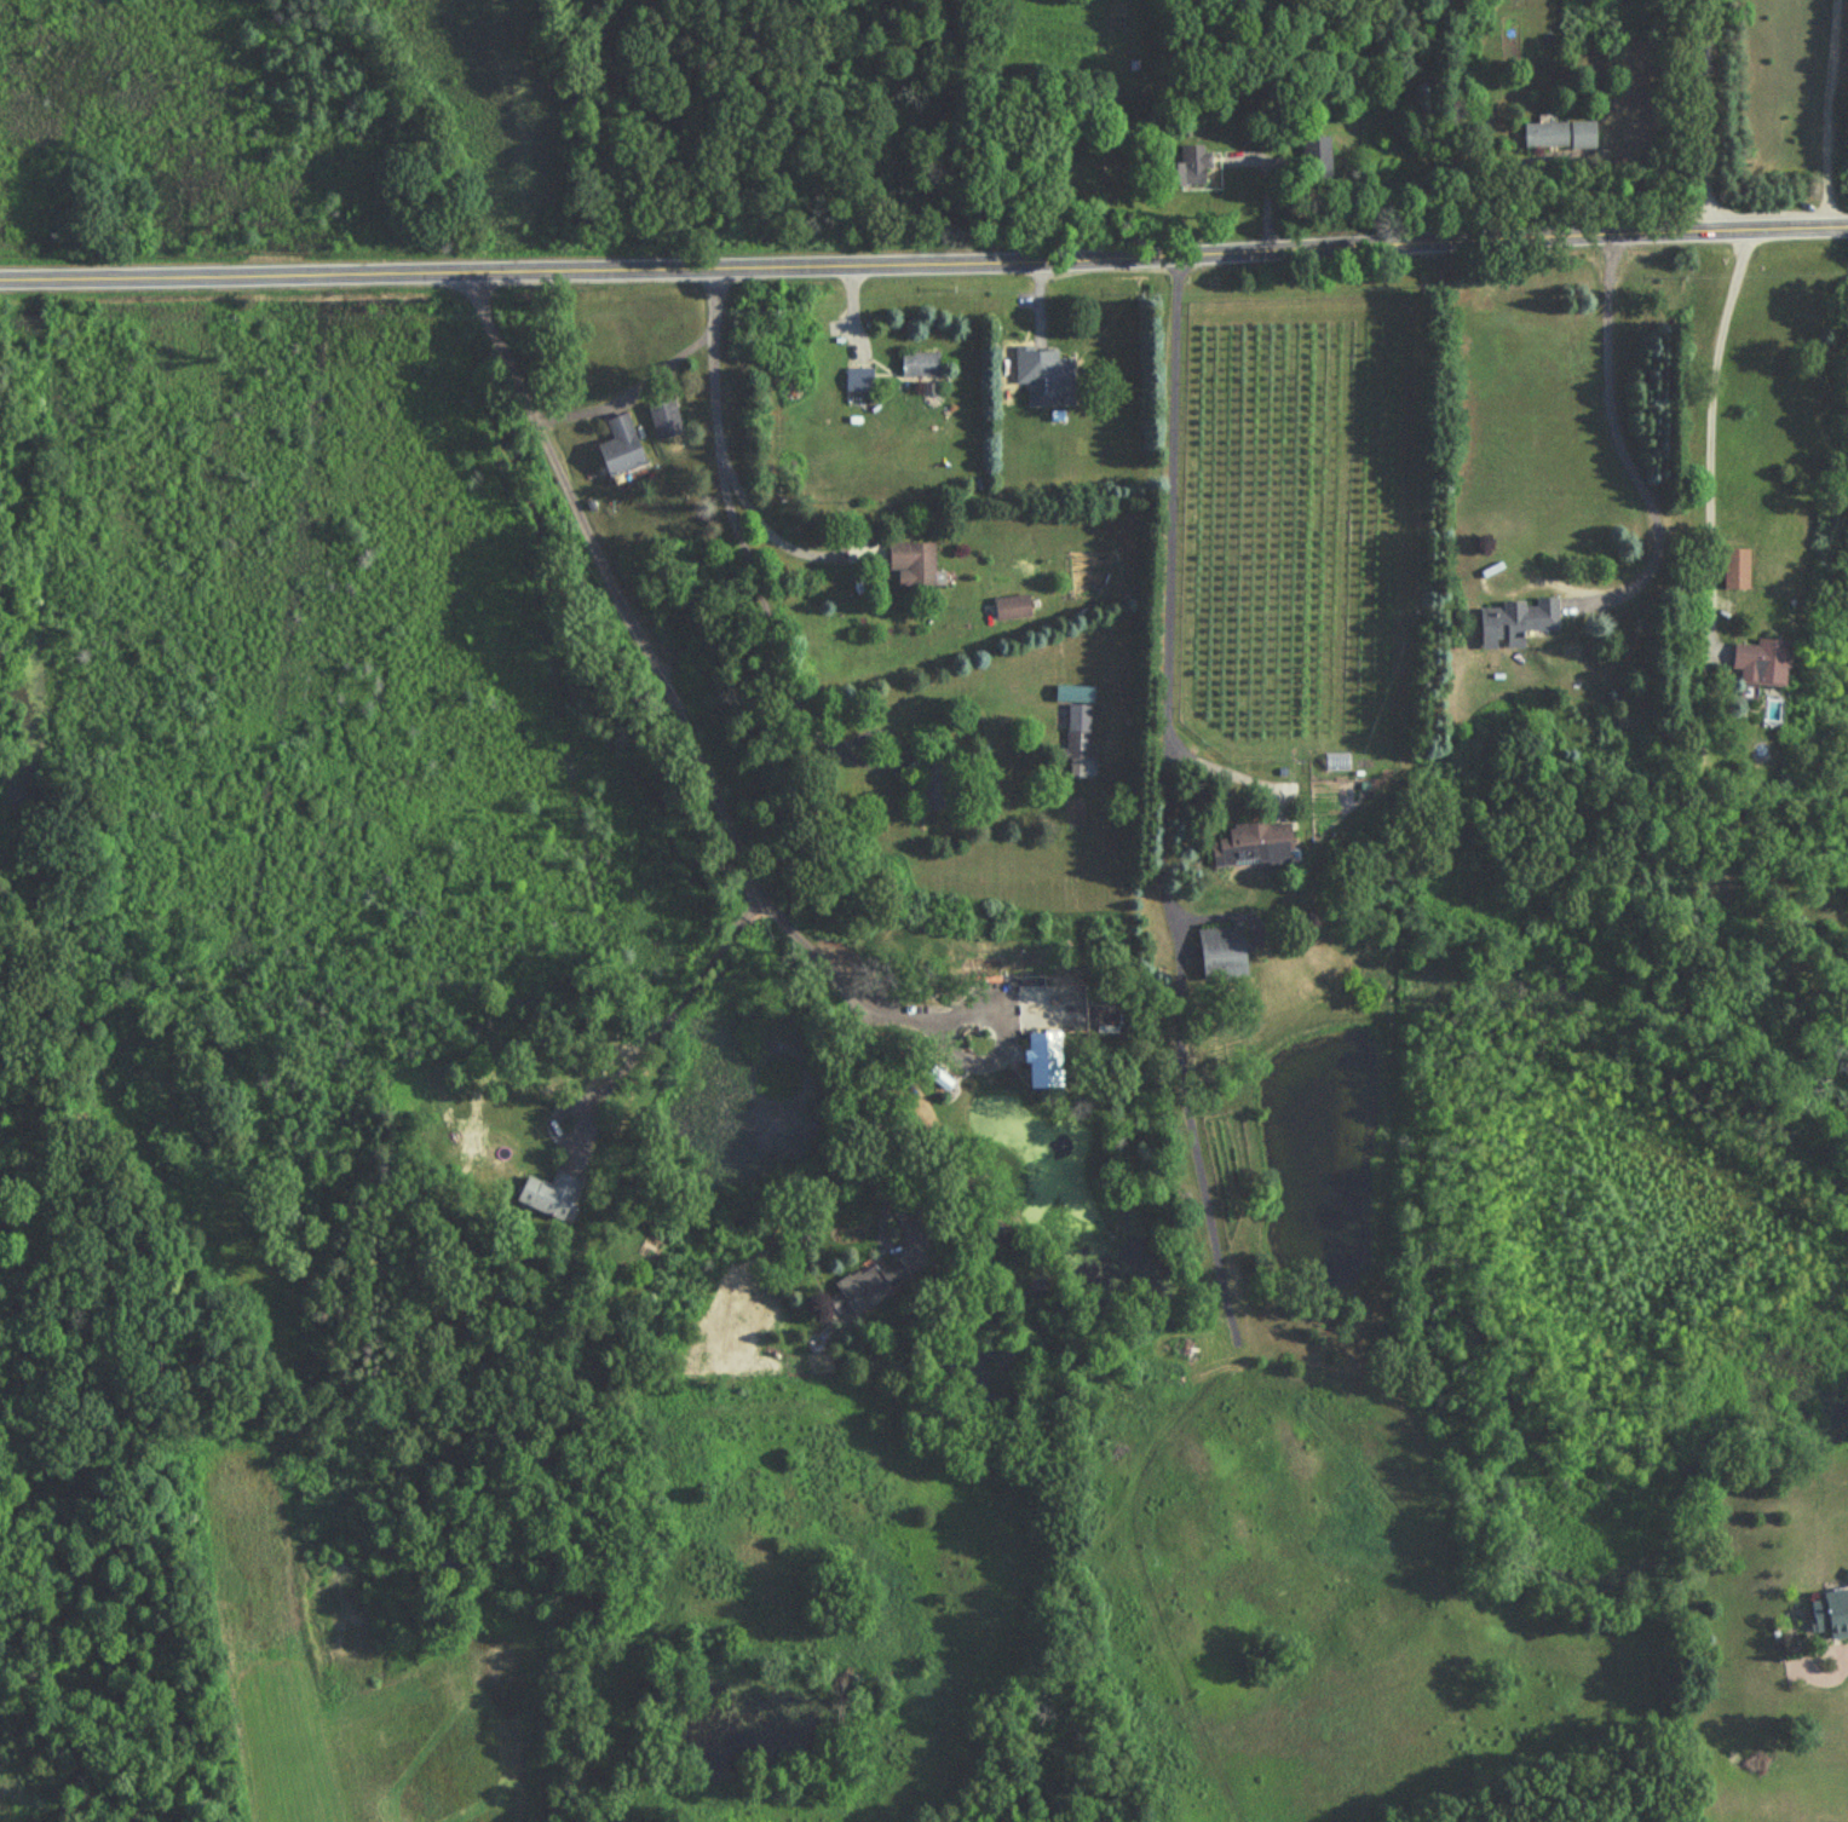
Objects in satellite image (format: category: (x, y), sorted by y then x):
road: (1831, 113)
road: (1706, 115)
park: (519, 123)
building: (1560, 137)
building: (1317, 158)
building: (1194, 168)
road: (923, 265)
building: (920, 367)
building: (1049, 381)
building: (859, 382)
road: (626, 386)
building: (667, 421)
road: (1710, 432)
road: (722, 437)
road: (1618, 442)
building: (622, 448)
building: (913, 566)
building: (1737, 569)
road: (1163, 589)
building: (1012, 609)
building: (1516, 622)
road: (772, 630)
road: (635, 634)
building: (1762, 659)
building: (1081, 742)
building: (938, 783)
building: (1254, 846)
building: (1222, 950)
road: (667, 1011)
road: (995, 1014)
building: (1047, 1056)
road: (887, 1137)
building: (548, 1195)
building: (873, 1284)
building: (1831, 1614)

